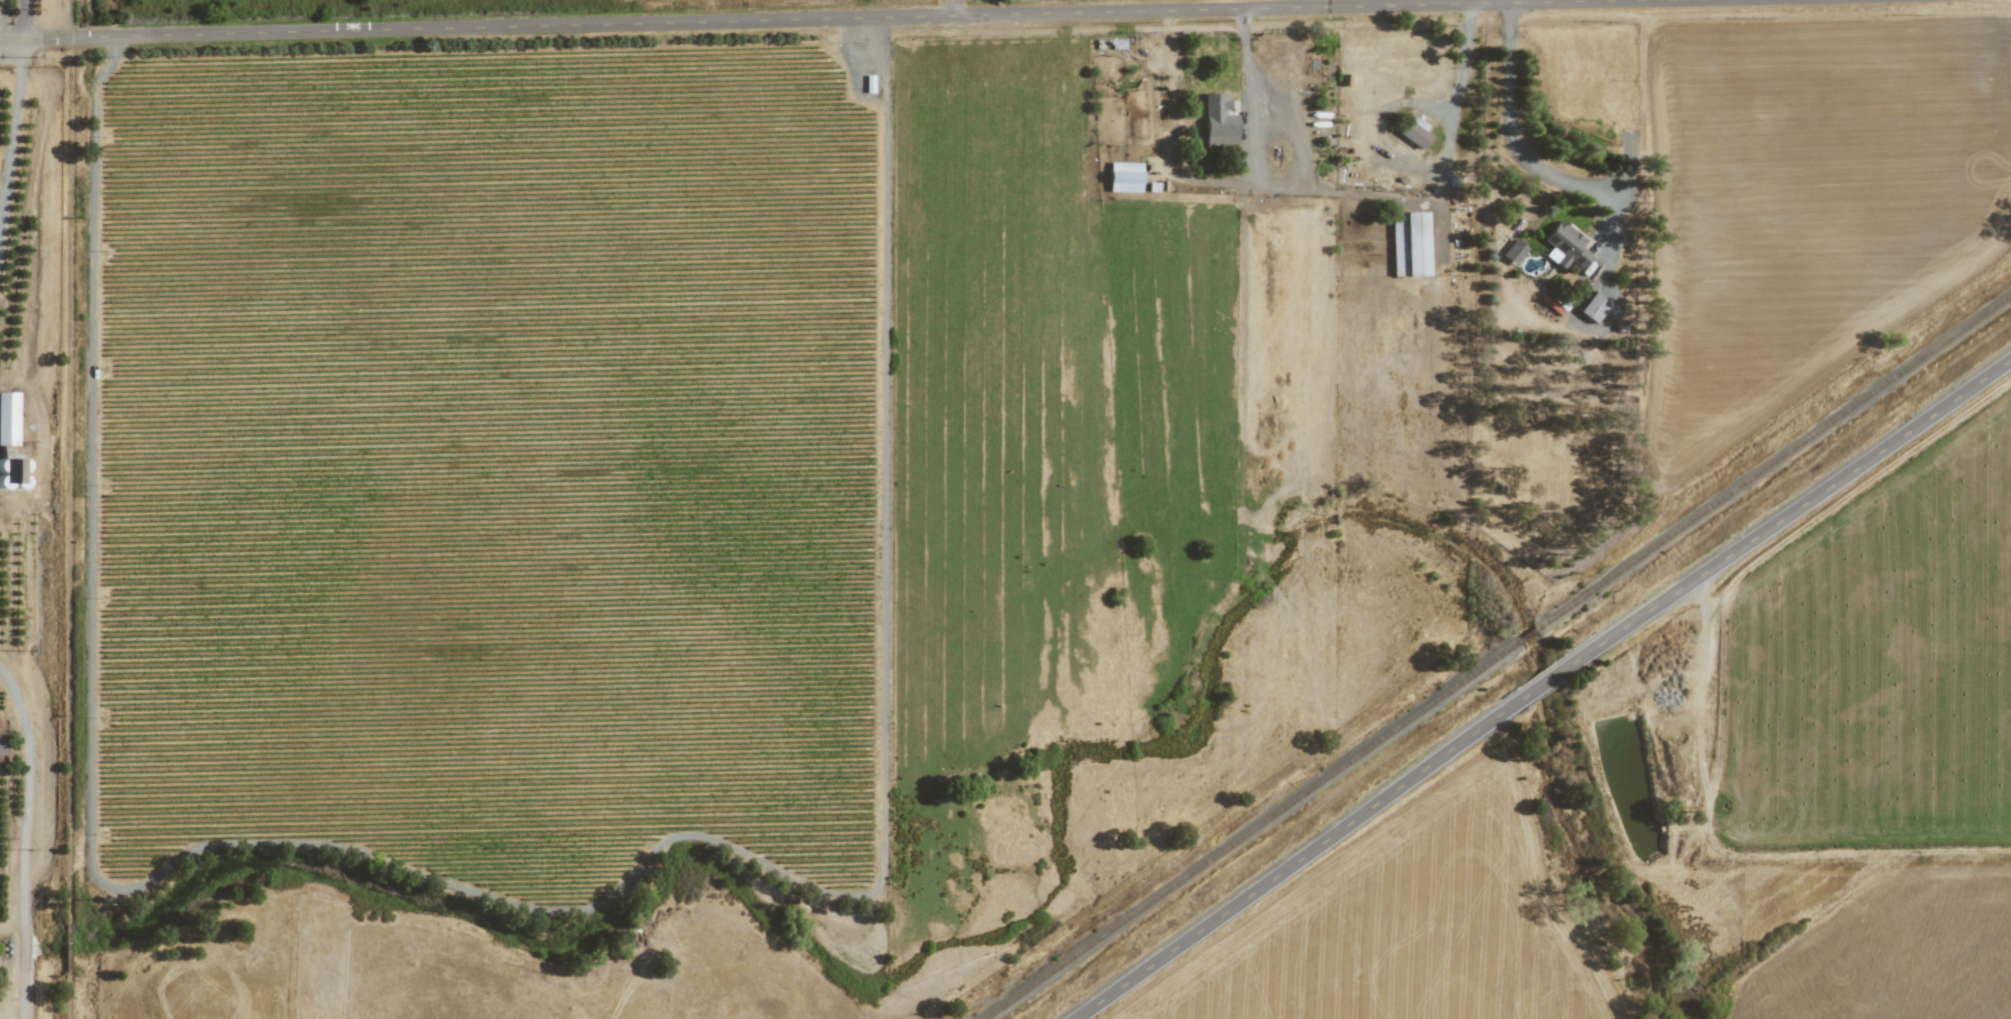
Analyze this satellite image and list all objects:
road: (950, 7)
road: (802, 17)
road: (26, 19)
road: (1245, 59)
road: (1460, 62)
building: (1219, 121)
road: (12, 132)
building: (1415, 132)
road: (1515, 146)
building: (1124, 176)
building: (1408, 244)
building: (1564, 245)
building: (1594, 306)
building: (8, 418)
railway: (1497, 657)
road: (1540, 685)
road: (23, 841)

